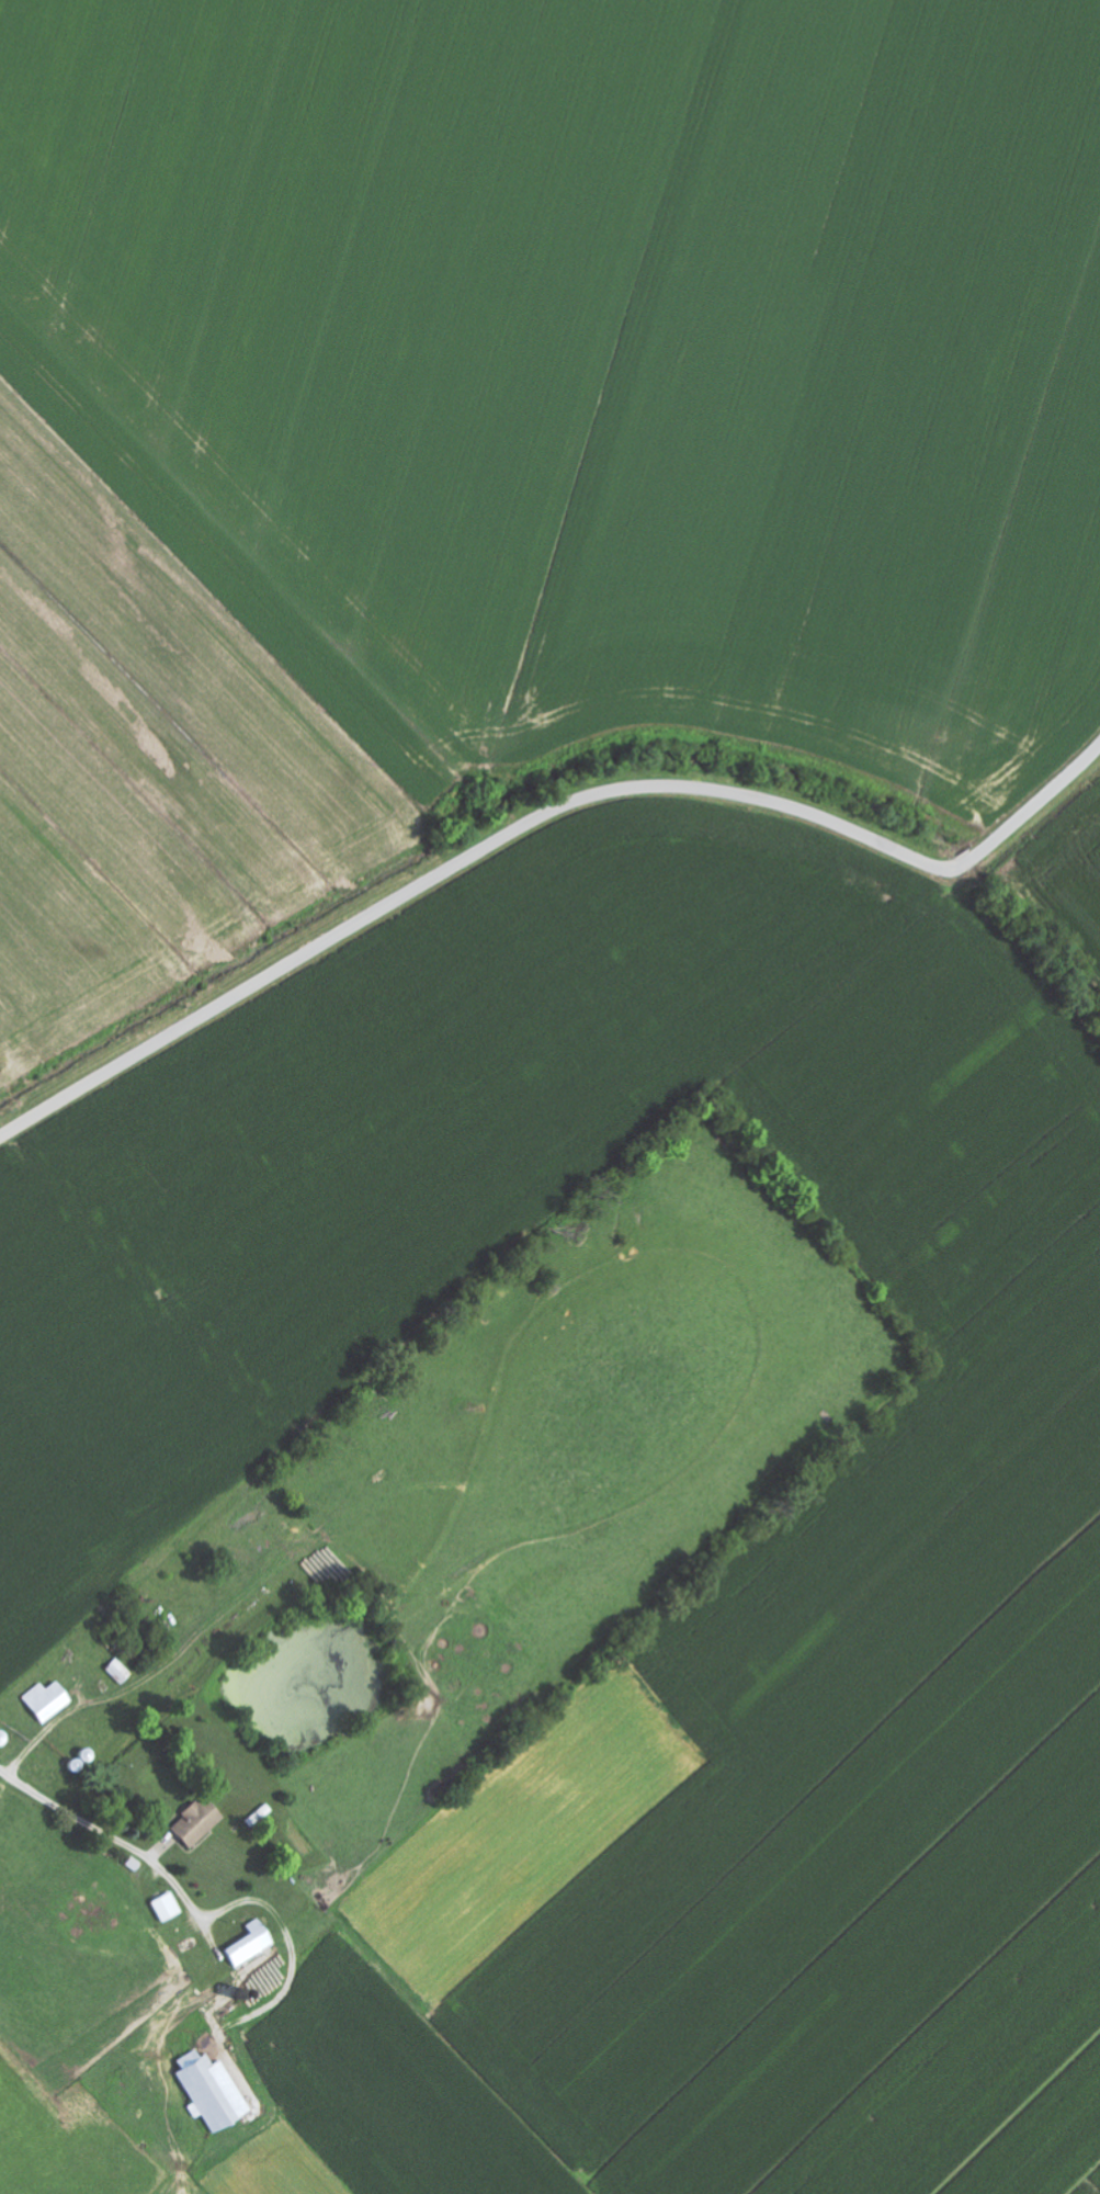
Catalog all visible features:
road: (538, 815)
building: (122, 1673)
building: (50, 1701)
building: (200, 1823)
road: (110, 1834)
building: (169, 1909)
building: (252, 1945)
building: (214, 2091)

